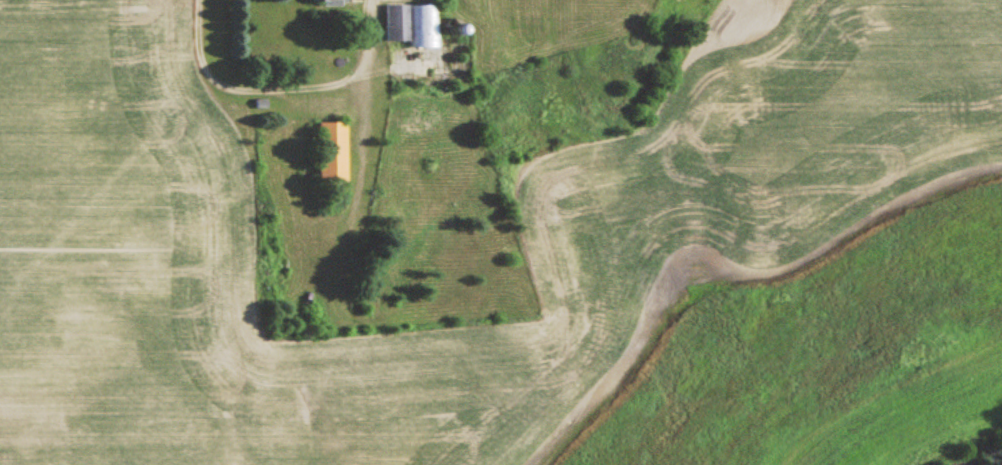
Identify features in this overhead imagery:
building: (326, 3)
building: (410, 27)
building: (324, 66)
building: (329, 153)
crop: (690, 226)

